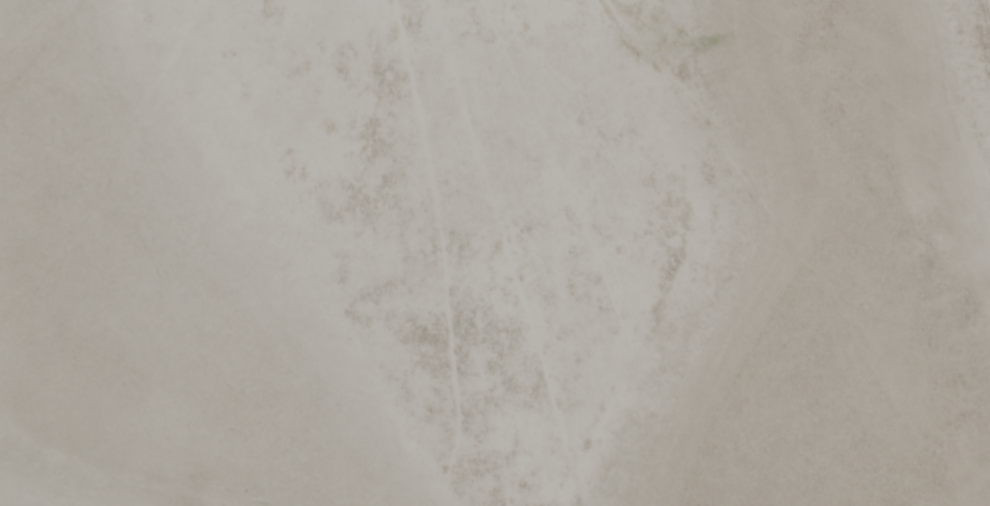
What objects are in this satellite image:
road: (977, 57)

